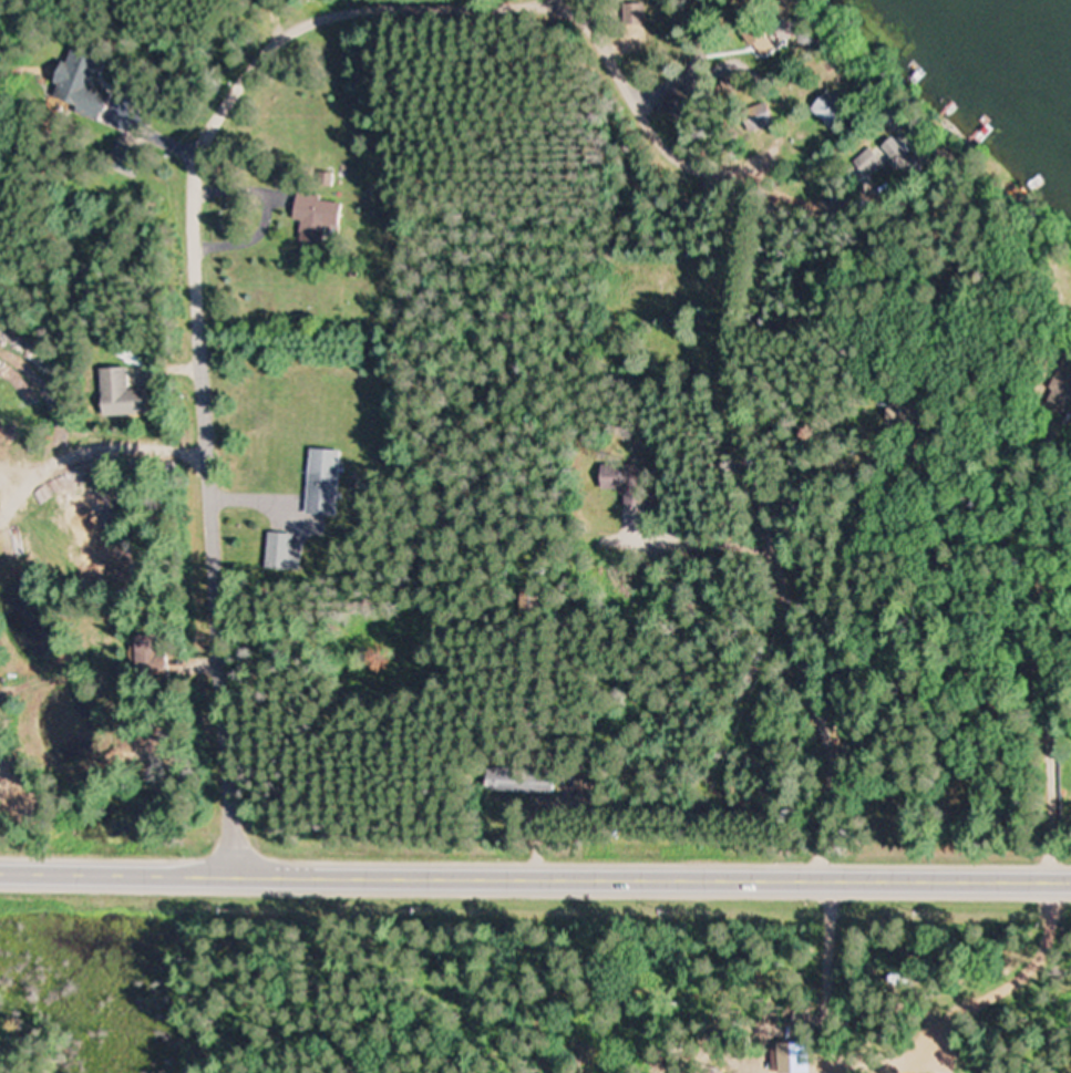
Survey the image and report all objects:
road: (298, 11)
building: (632, 12)
building: (753, 30)
building: (79, 82)
building: (827, 109)
building: (754, 118)
road: (202, 161)
building: (867, 162)
building: (903, 162)
building: (313, 216)
road: (789, 293)
building: (1063, 389)
building: (115, 393)
building: (323, 478)
building: (622, 482)
road: (944, 520)
building: (278, 550)
road: (780, 558)
road: (535, 871)
building: (811, 1056)

